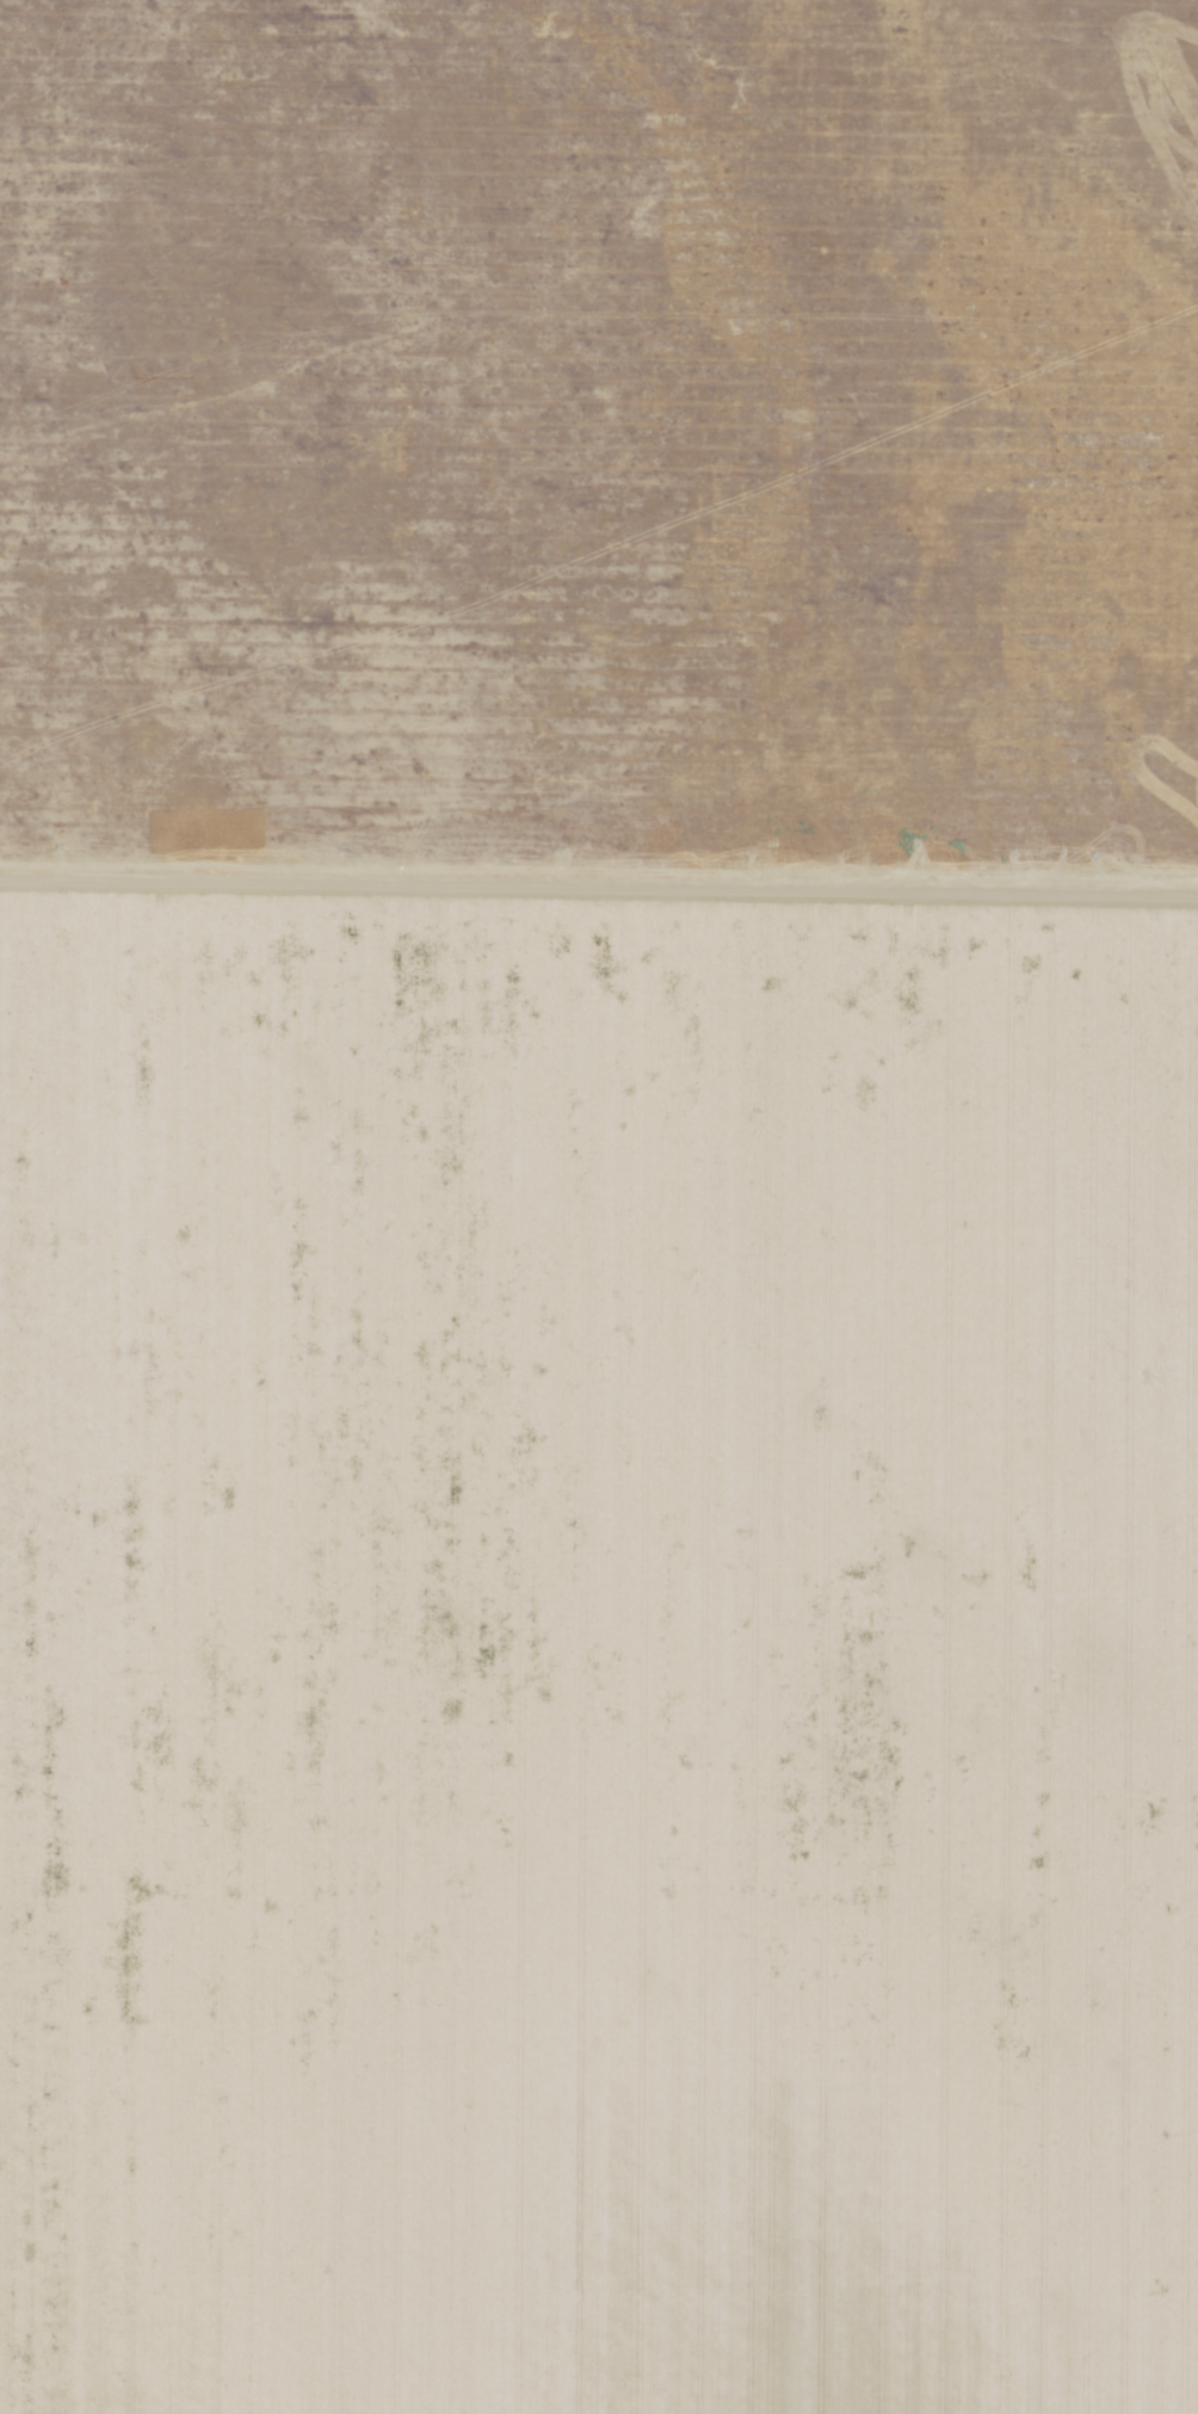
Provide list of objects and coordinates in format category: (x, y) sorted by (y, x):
airport: (1046, 165)

